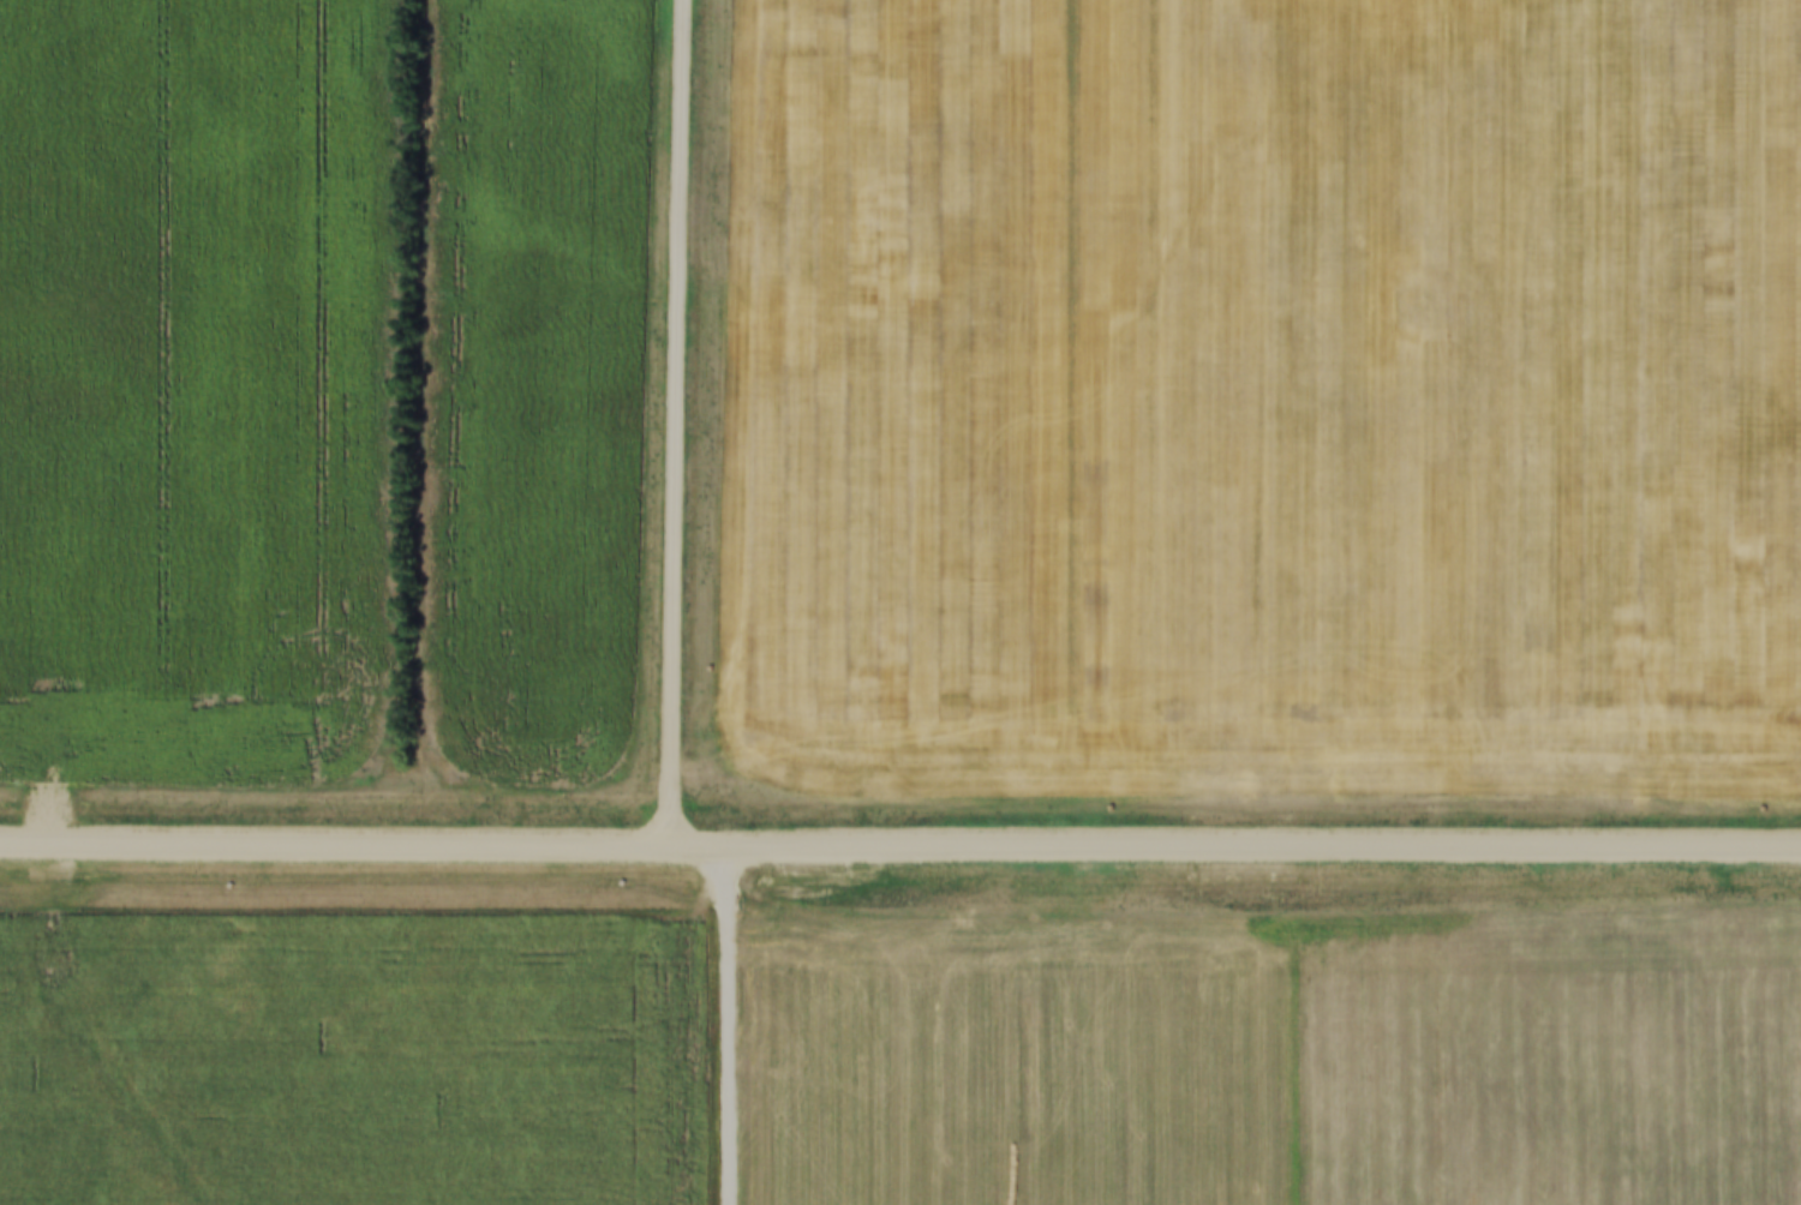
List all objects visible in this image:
road: (680, 421)
road: (899, 845)

